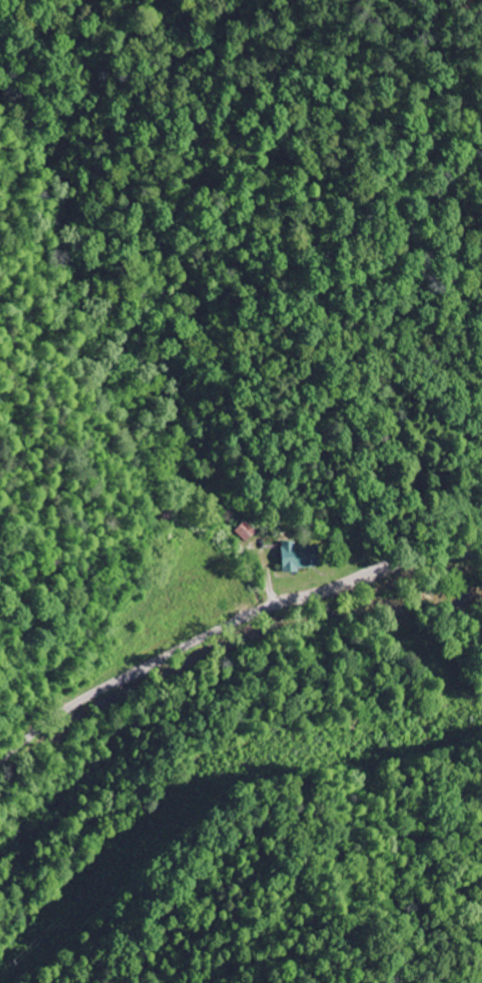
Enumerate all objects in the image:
building: (293, 557)
road: (227, 624)

